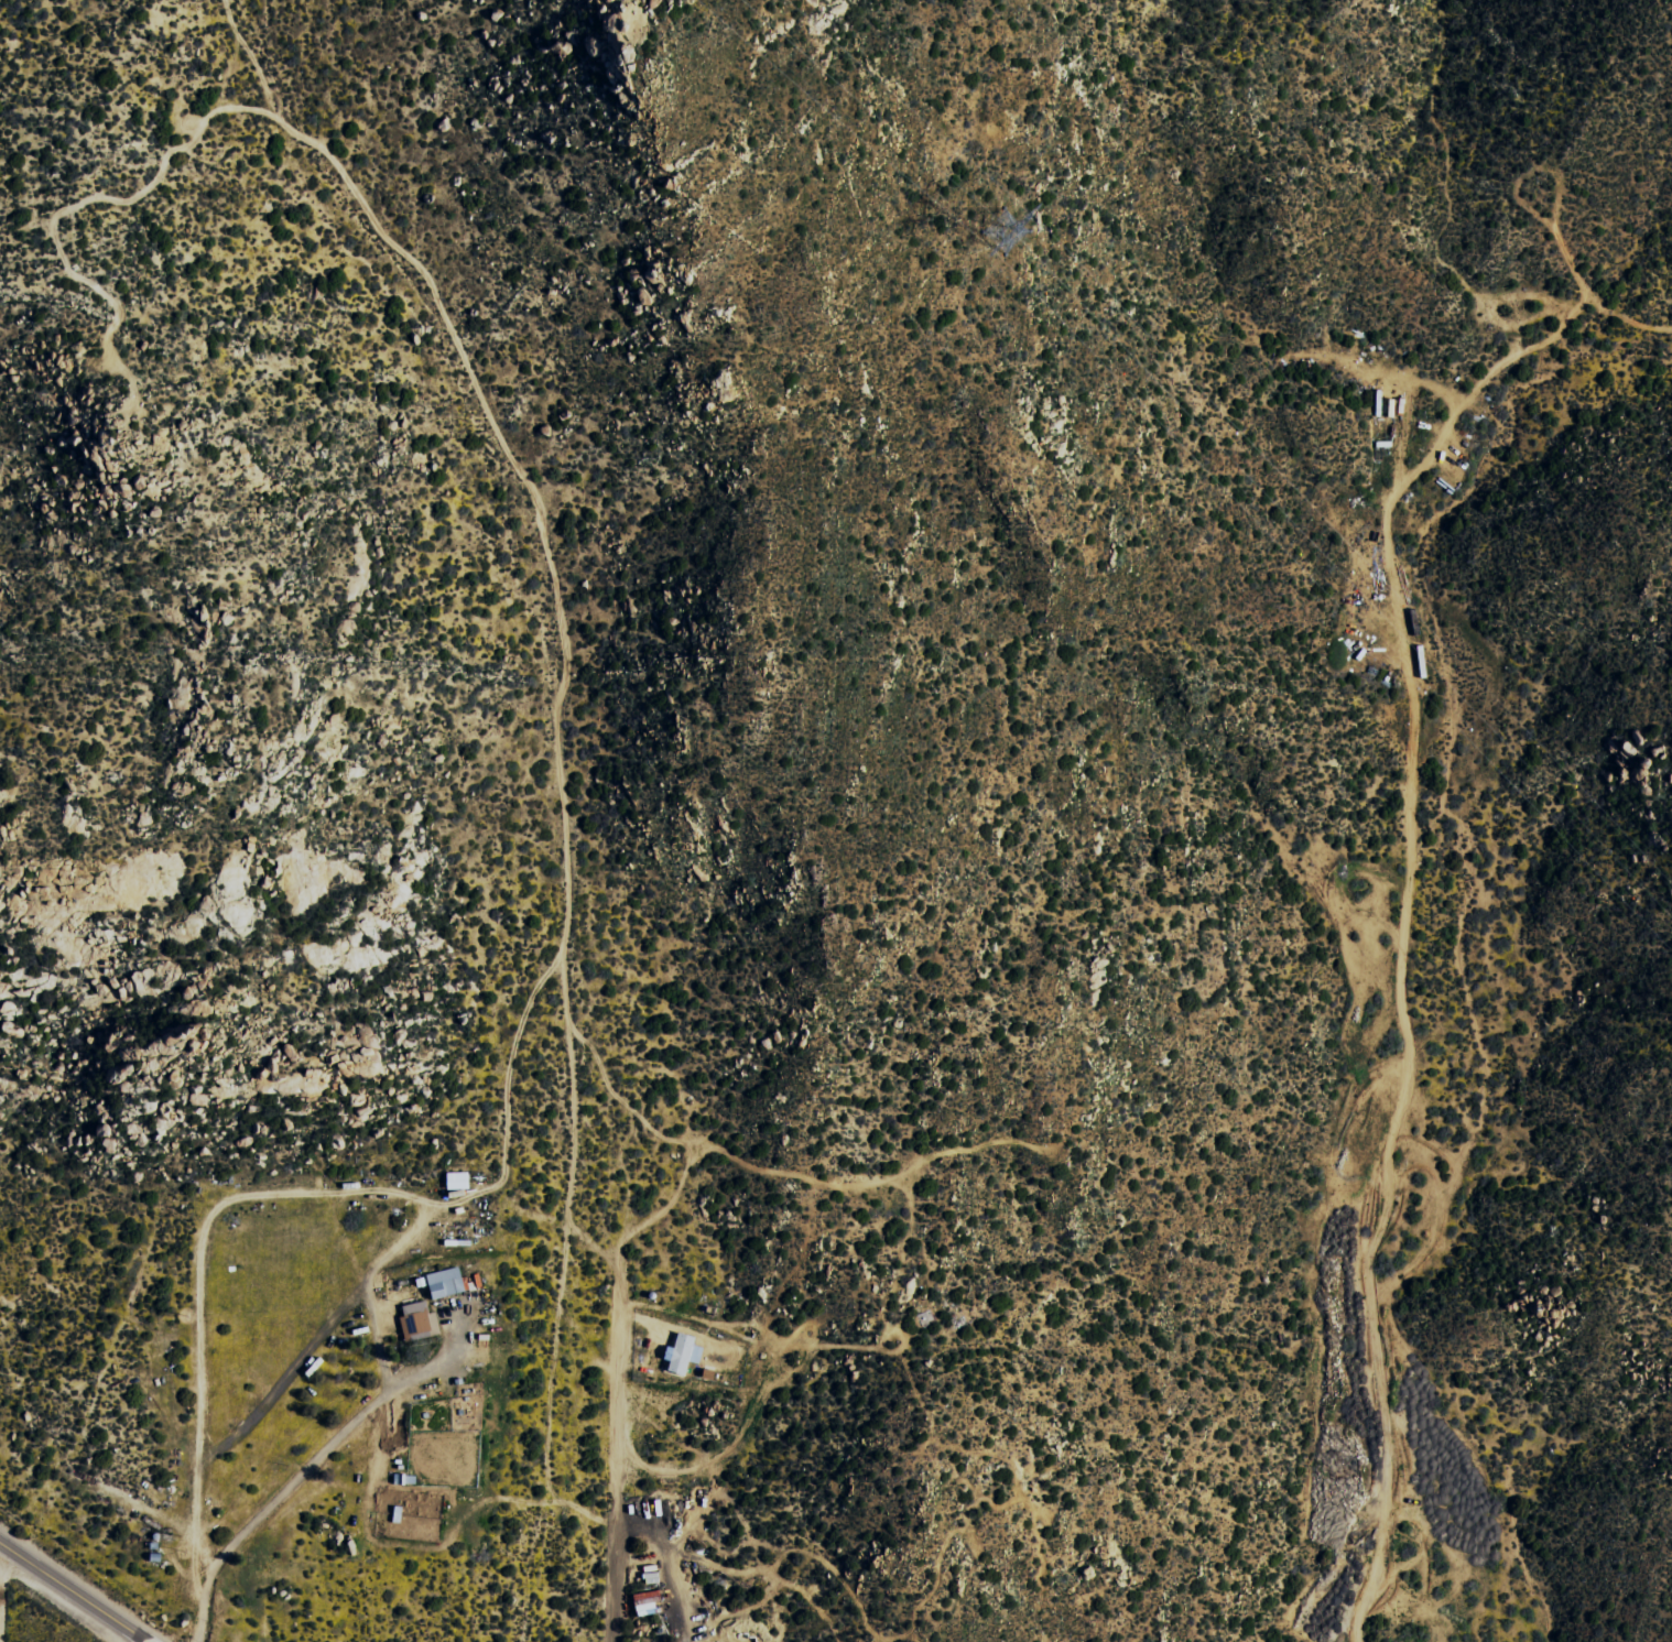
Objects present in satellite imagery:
power tower: (1030, 226)
building: (457, 1181)
building: (445, 1282)
building: (419, 1320)
building: (684, 1352)
road: (283, 1503)
road: (78, 1591)
road: (1, 1592)
building: (648, 1602)
road: (617, 1621)

